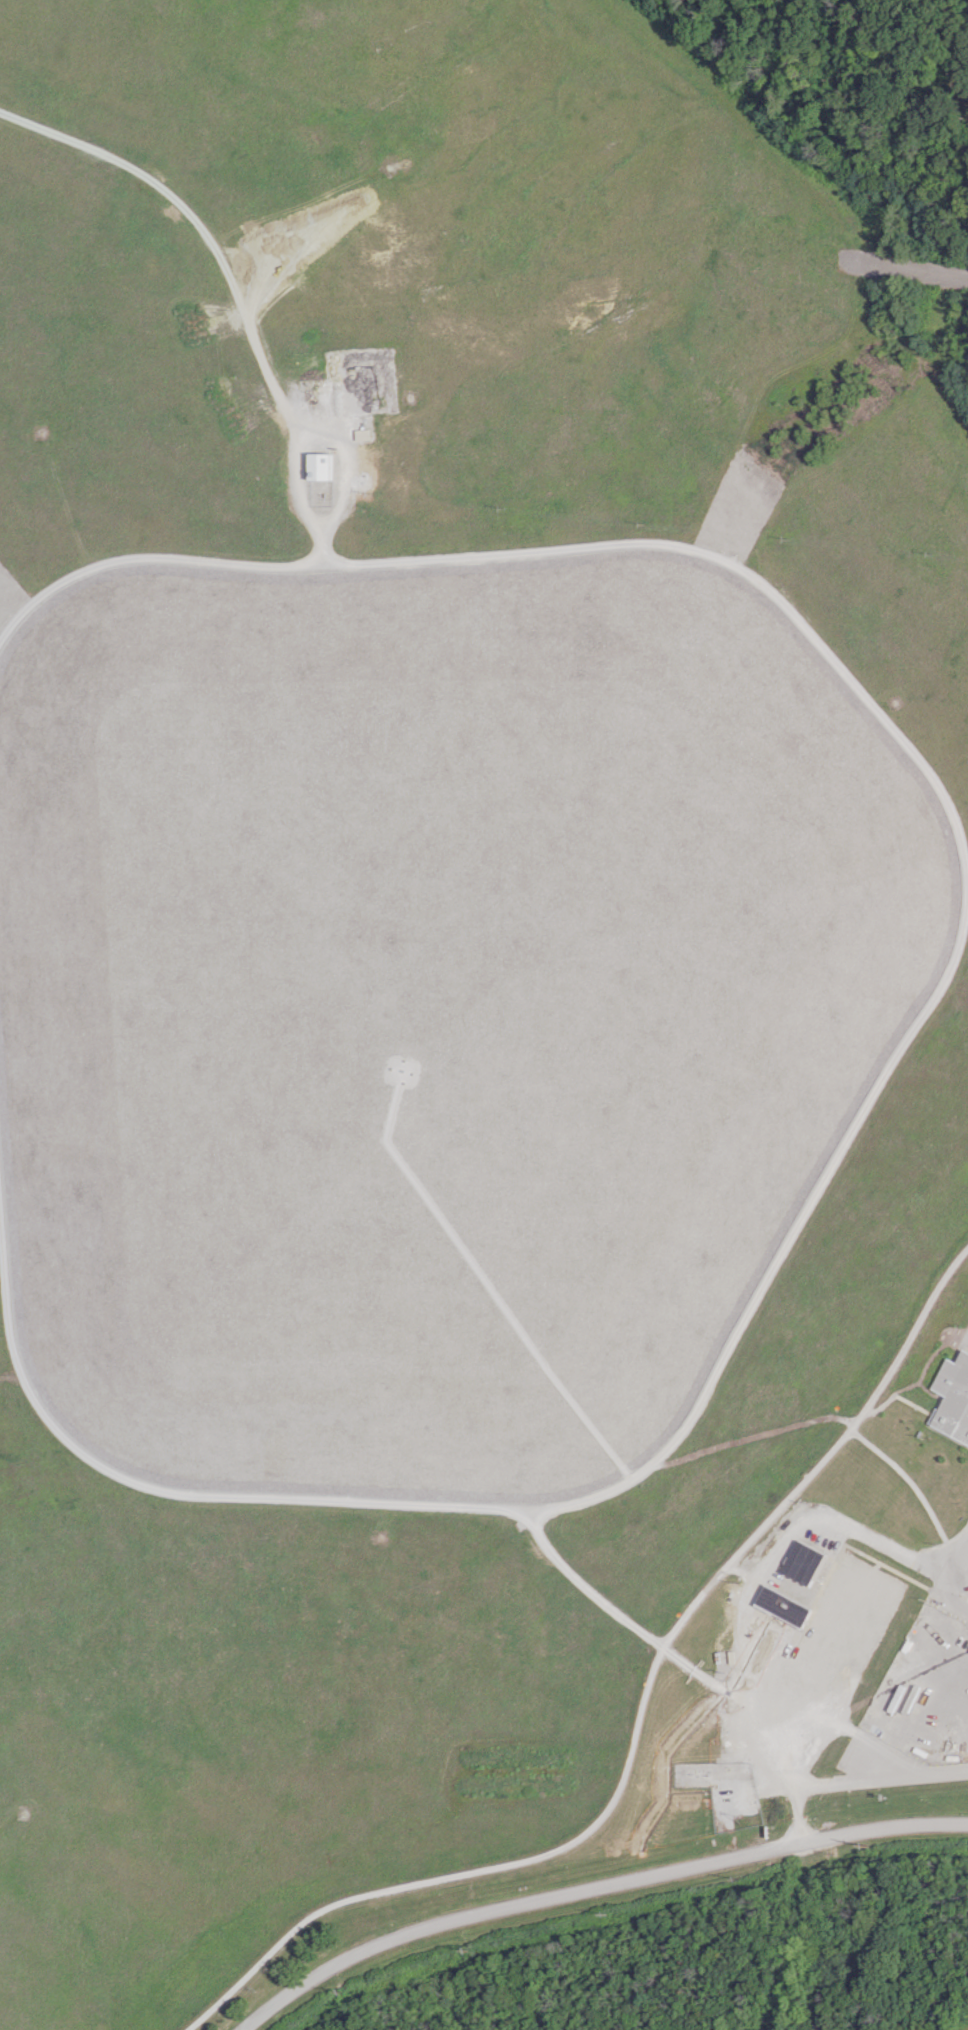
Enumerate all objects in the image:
road: (202, 233)
road: (903, 268)
building: (320, 466)
road: (331, 520)
road: (332, 557)
road: (311, 558)
park: (462, 982)
landfill: (429, 1003)
road: (896, 1053)
road: (456, 1223)
parking lot: (965, 1339)
road: (930, 1363)
road: (934, 1394)
road: (900, 1398)
building: (955, 1400)
road: (754, 1437)
road: (914, 1487)
road: (959, 1560)
building: (803, 1563)
road: (946, 1587)
parking lot: (965, 1589)
road: (955, 1602)
road: (750, 1603)
road: (621, 1617)
building: (822, 1652)
road: (637, 1723)
road: (908, 1775)
road: (590, 1888)

